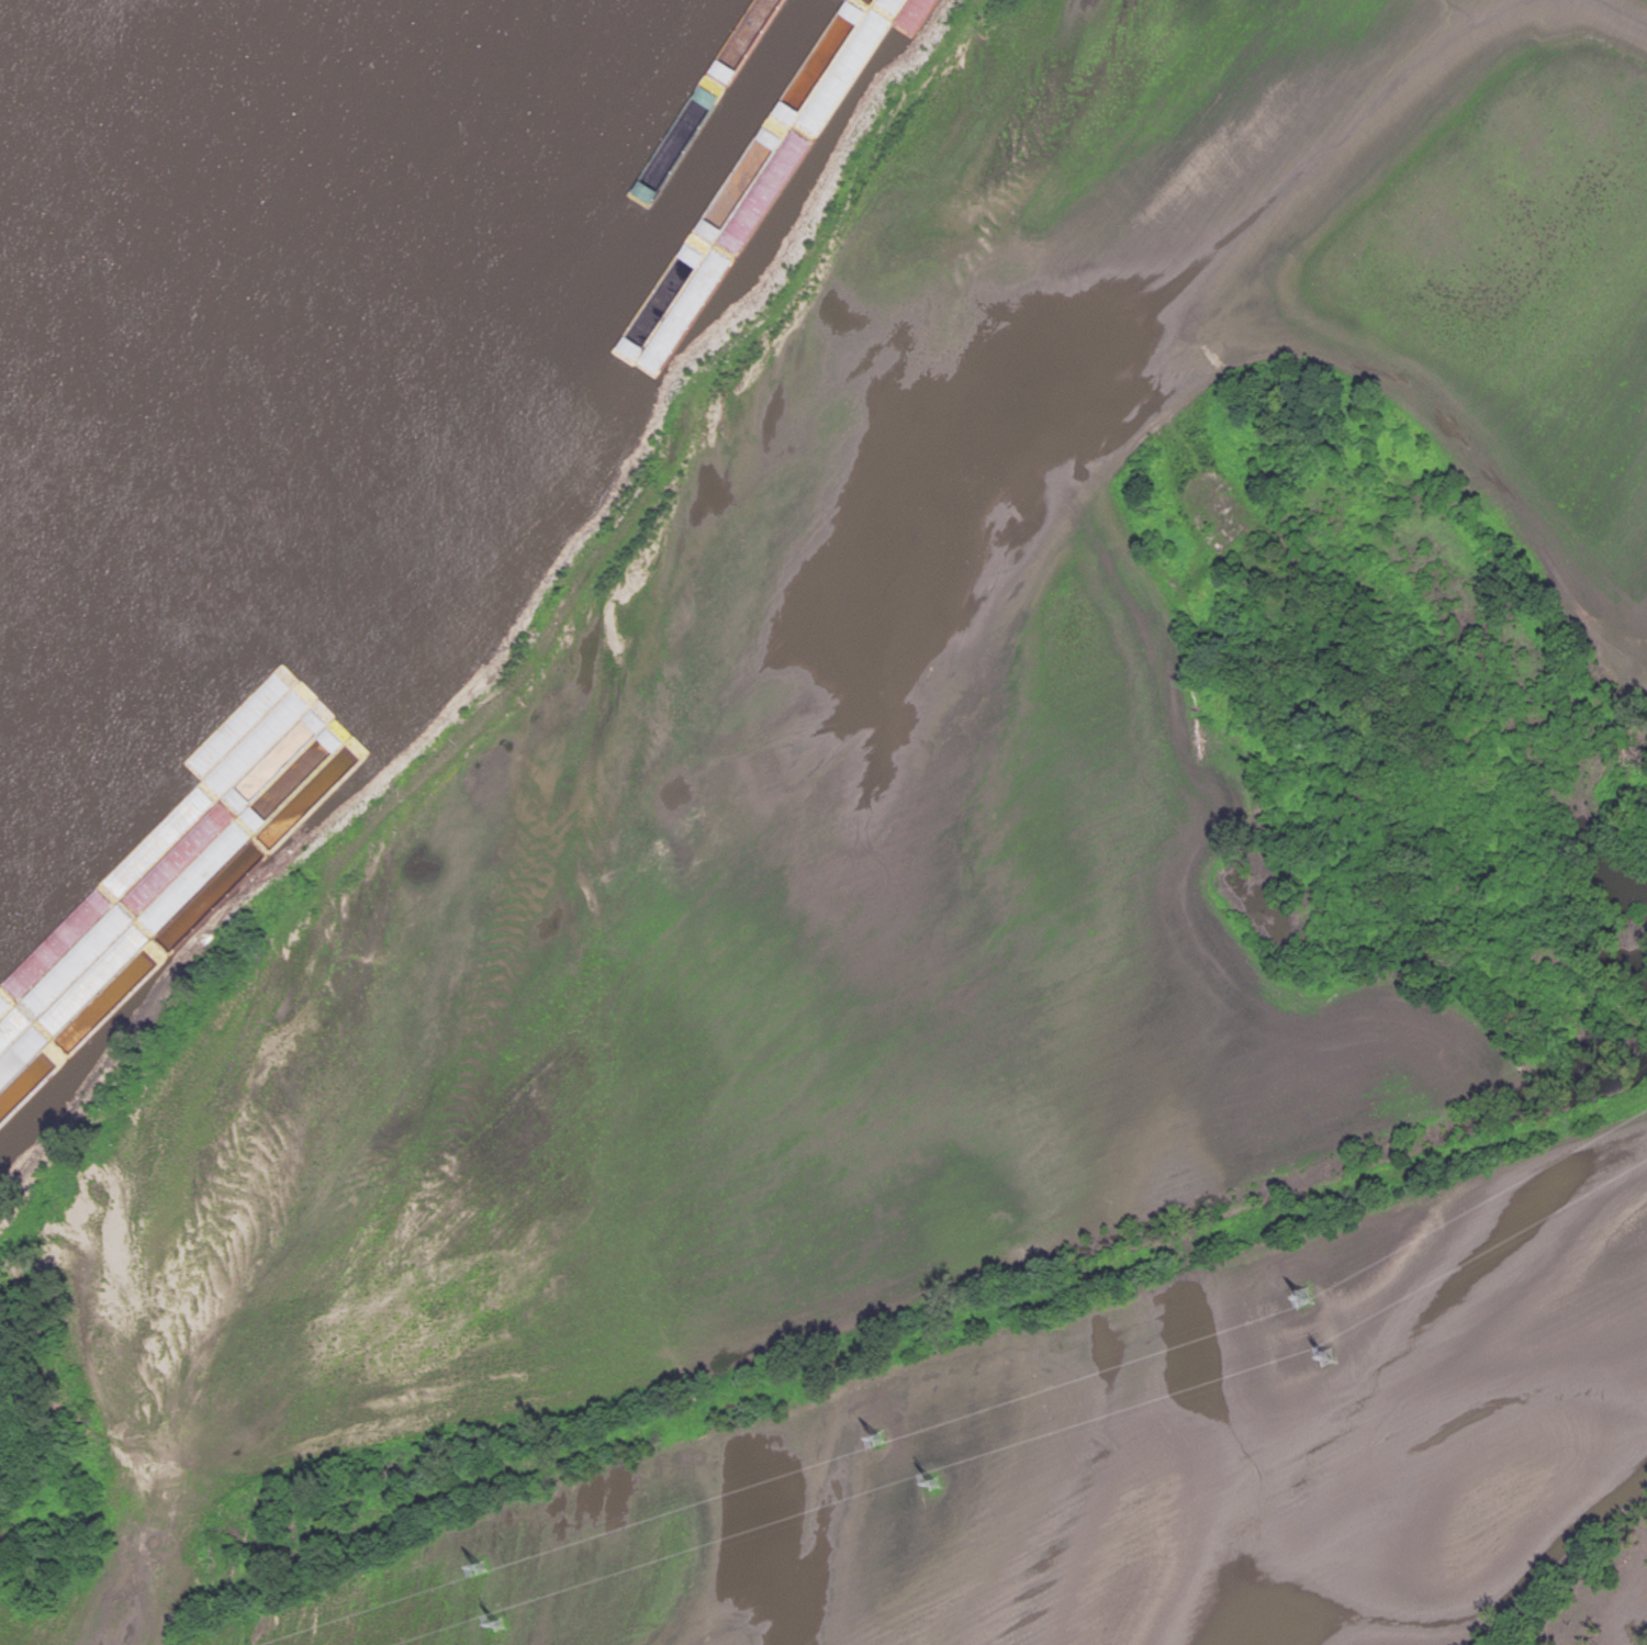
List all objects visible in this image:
building: (874, 1)
building: (893, 9)
building: (827, 64)
building: (292, 759)
building: (226, 783)
building: (206, 806)
building: (157, 866)
building: (167, 932)
crop: (938, 938)
building: (81, 955)
building: (12, 1036)
power tower: (1300, 1302)
power tower: (1324, 1363)
power tower: (876, 1451)
power tower: (938, 1491)
power tower: (479, 1573)
power tower: (495, 1627)

